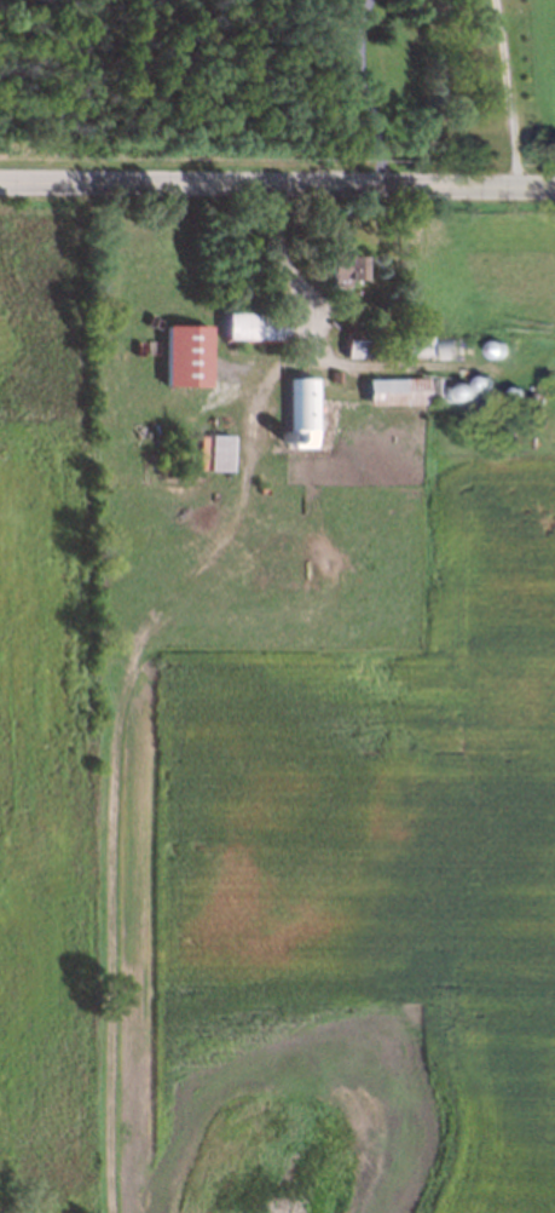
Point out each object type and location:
road: (364, 92)
road: (505, 92)
road: (277, 184)
building: (342, 264)
road: (288, 268)
building: (259, 329)
building: (388, 346)
building: (424, 346)
building: (495, 346)
building: (366, 350)
building: (192, 357)
building: (334, 375)
building: (481, 379)
building: (528, 384)
building: (545, 386)
building: (464, 389)
building: (514, 389)
building: (406, 392)
building: (536, 393)
building: (306, 413)
building: (284, 433)
building: (225, 455)

